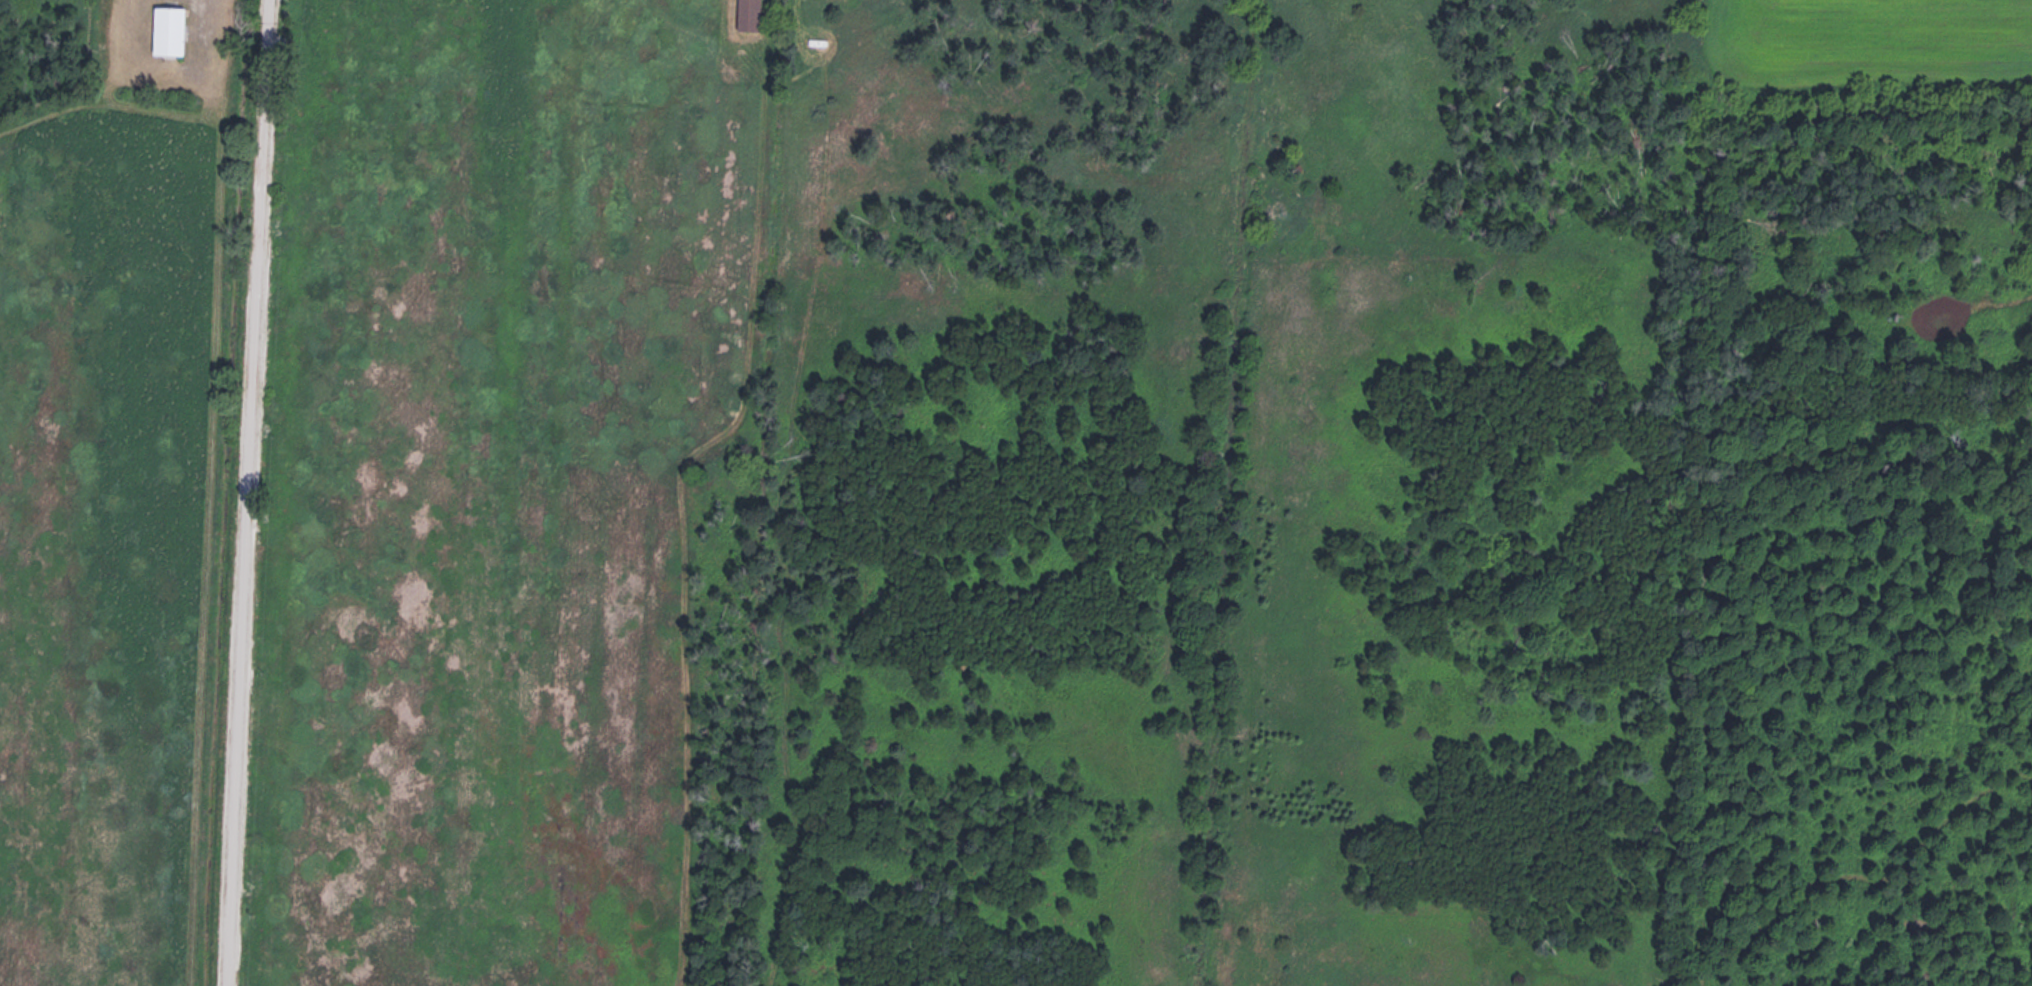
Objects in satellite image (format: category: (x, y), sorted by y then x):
building: (747, 14)
building: (166, 30)
road: (247, 492)

